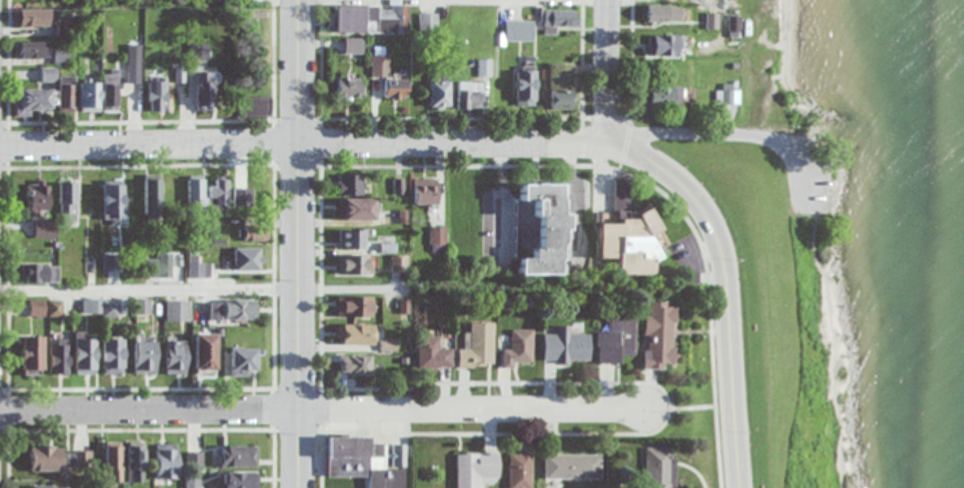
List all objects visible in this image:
road: (329, 0)
building: (661, 13)
building: (33, 17)
building: (371, 19)
building: (556, 19)
building: (711, 20)
building: (428, 22)
building: (518, 30)
building: (353, 45)
building: (663, 45)
building: (32, 50)
building: (197, 51)
building: (133, 62)
road: (608, 73)
building: (388, 78)
building: (525, 86)
building: (560, 86)
building: (350, 87)
building: (109, 90)
building: (204, 90)
building: (438, 92)
building: (66, 94)
building: (727, 94)
building: (156, 95)
building: (469, 95)
building: (662, 96)
building: (89, 97)
building: (33, 101)
building: (255, 107)
road: (149, 145)
road: (453, 145)
road: (727, 147)
building: (351, 184)
building: (425, 191)
building: (196, 192)
building: (250, 192)
building: (152, 194)
building: (218, 195)
building: (38, 197)
building: (67, 201)
building: (113, 202)
building: (356, 209)
building: (45, 229)
building: (544, 231)
building: (254, 234)
building: (352, 239)
building: (438, 239)
building: (632, 240)
road: (298, 244)
building: (247, 259)
building: (111, 262)
building: (399, 263)
building: (354, 264)
building: (153, 268)
building: (198, 269)
building: (31, 272)
road: (728, 287)
road: (149, 289)
building: (524, 302)
building: (354, 306)
building: (142, 307)
building: (36, 308)
building: (55, 308)
building: (99, 308)
building: (239, 309)
building: (177, 311)
building: (355, 334)
building: (658, 335)
building: (615, 339)
building: (477, 347)
building: (565, 347)
building: (518, 350)
building: (432, 351)
building: (84, 353)
building: (204, 353)
building: (31, 355)
building: (144, 355)
building: (112, 356)
building: (174, 356)
building: (58, 357)
building: (242, 361)
building: (354, 365)
road: (690, 407)
road: (321, 409)
building: (238, 456)
building: (78, 458)
building: (47, 459)
building: (194, 460)
building: (165, 461)
building: (366, 461)
building: (112, 462)
building: (134, 462)
building: (571, 466)
building: (659, 467)
building: (475, 468)
building: (519, 470)
building: (241, 480)
building: (191, 482)
building: (40, 486)

